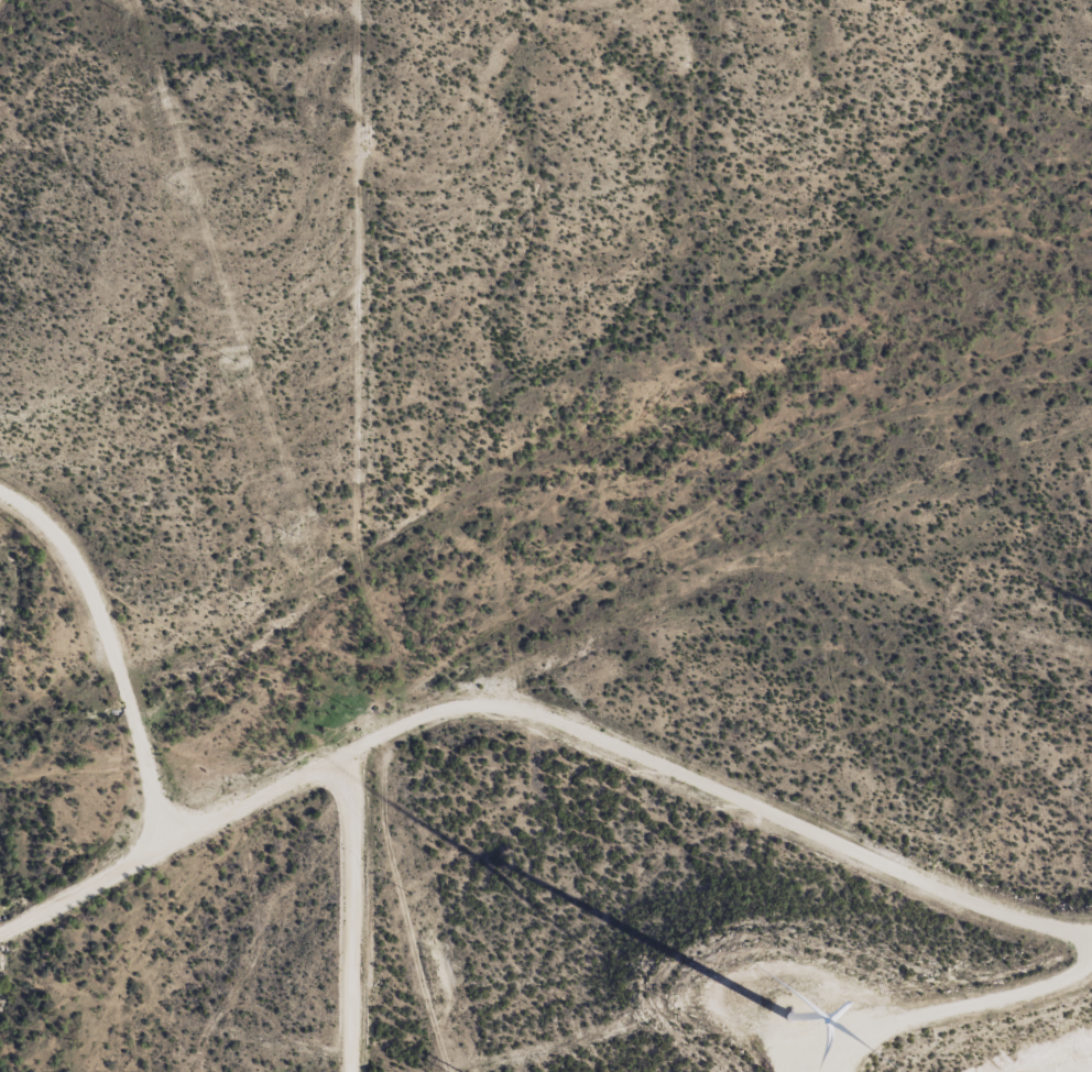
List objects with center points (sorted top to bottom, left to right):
wind turbine: (796, 1008)

